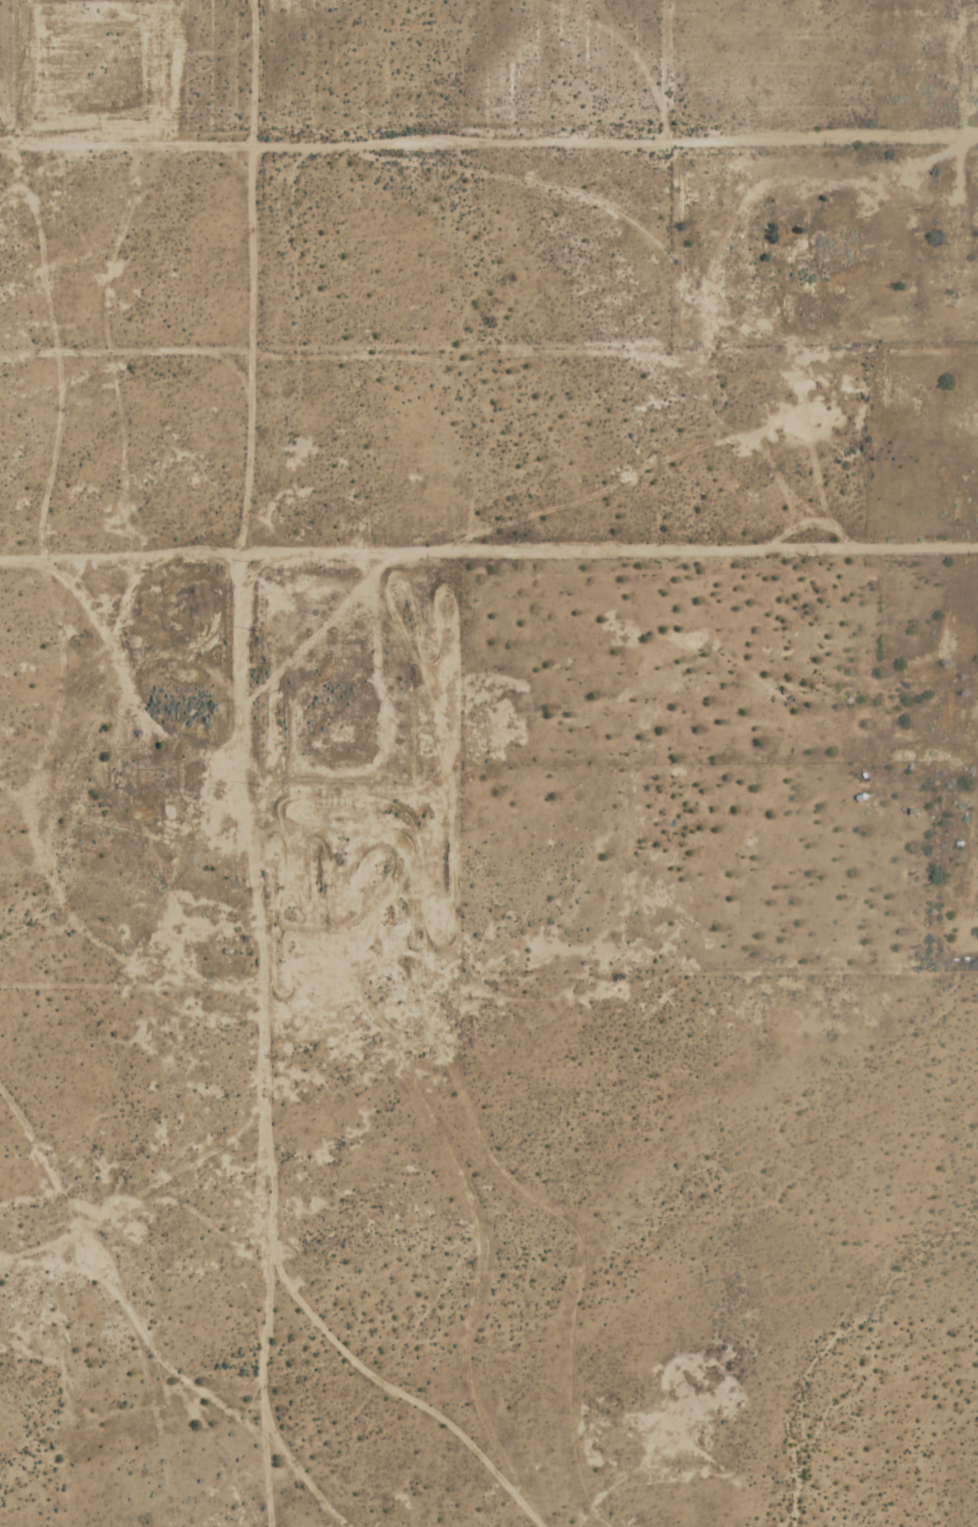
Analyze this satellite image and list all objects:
road: (489, 146)
road: (248, 353)
road: (489, 553)

